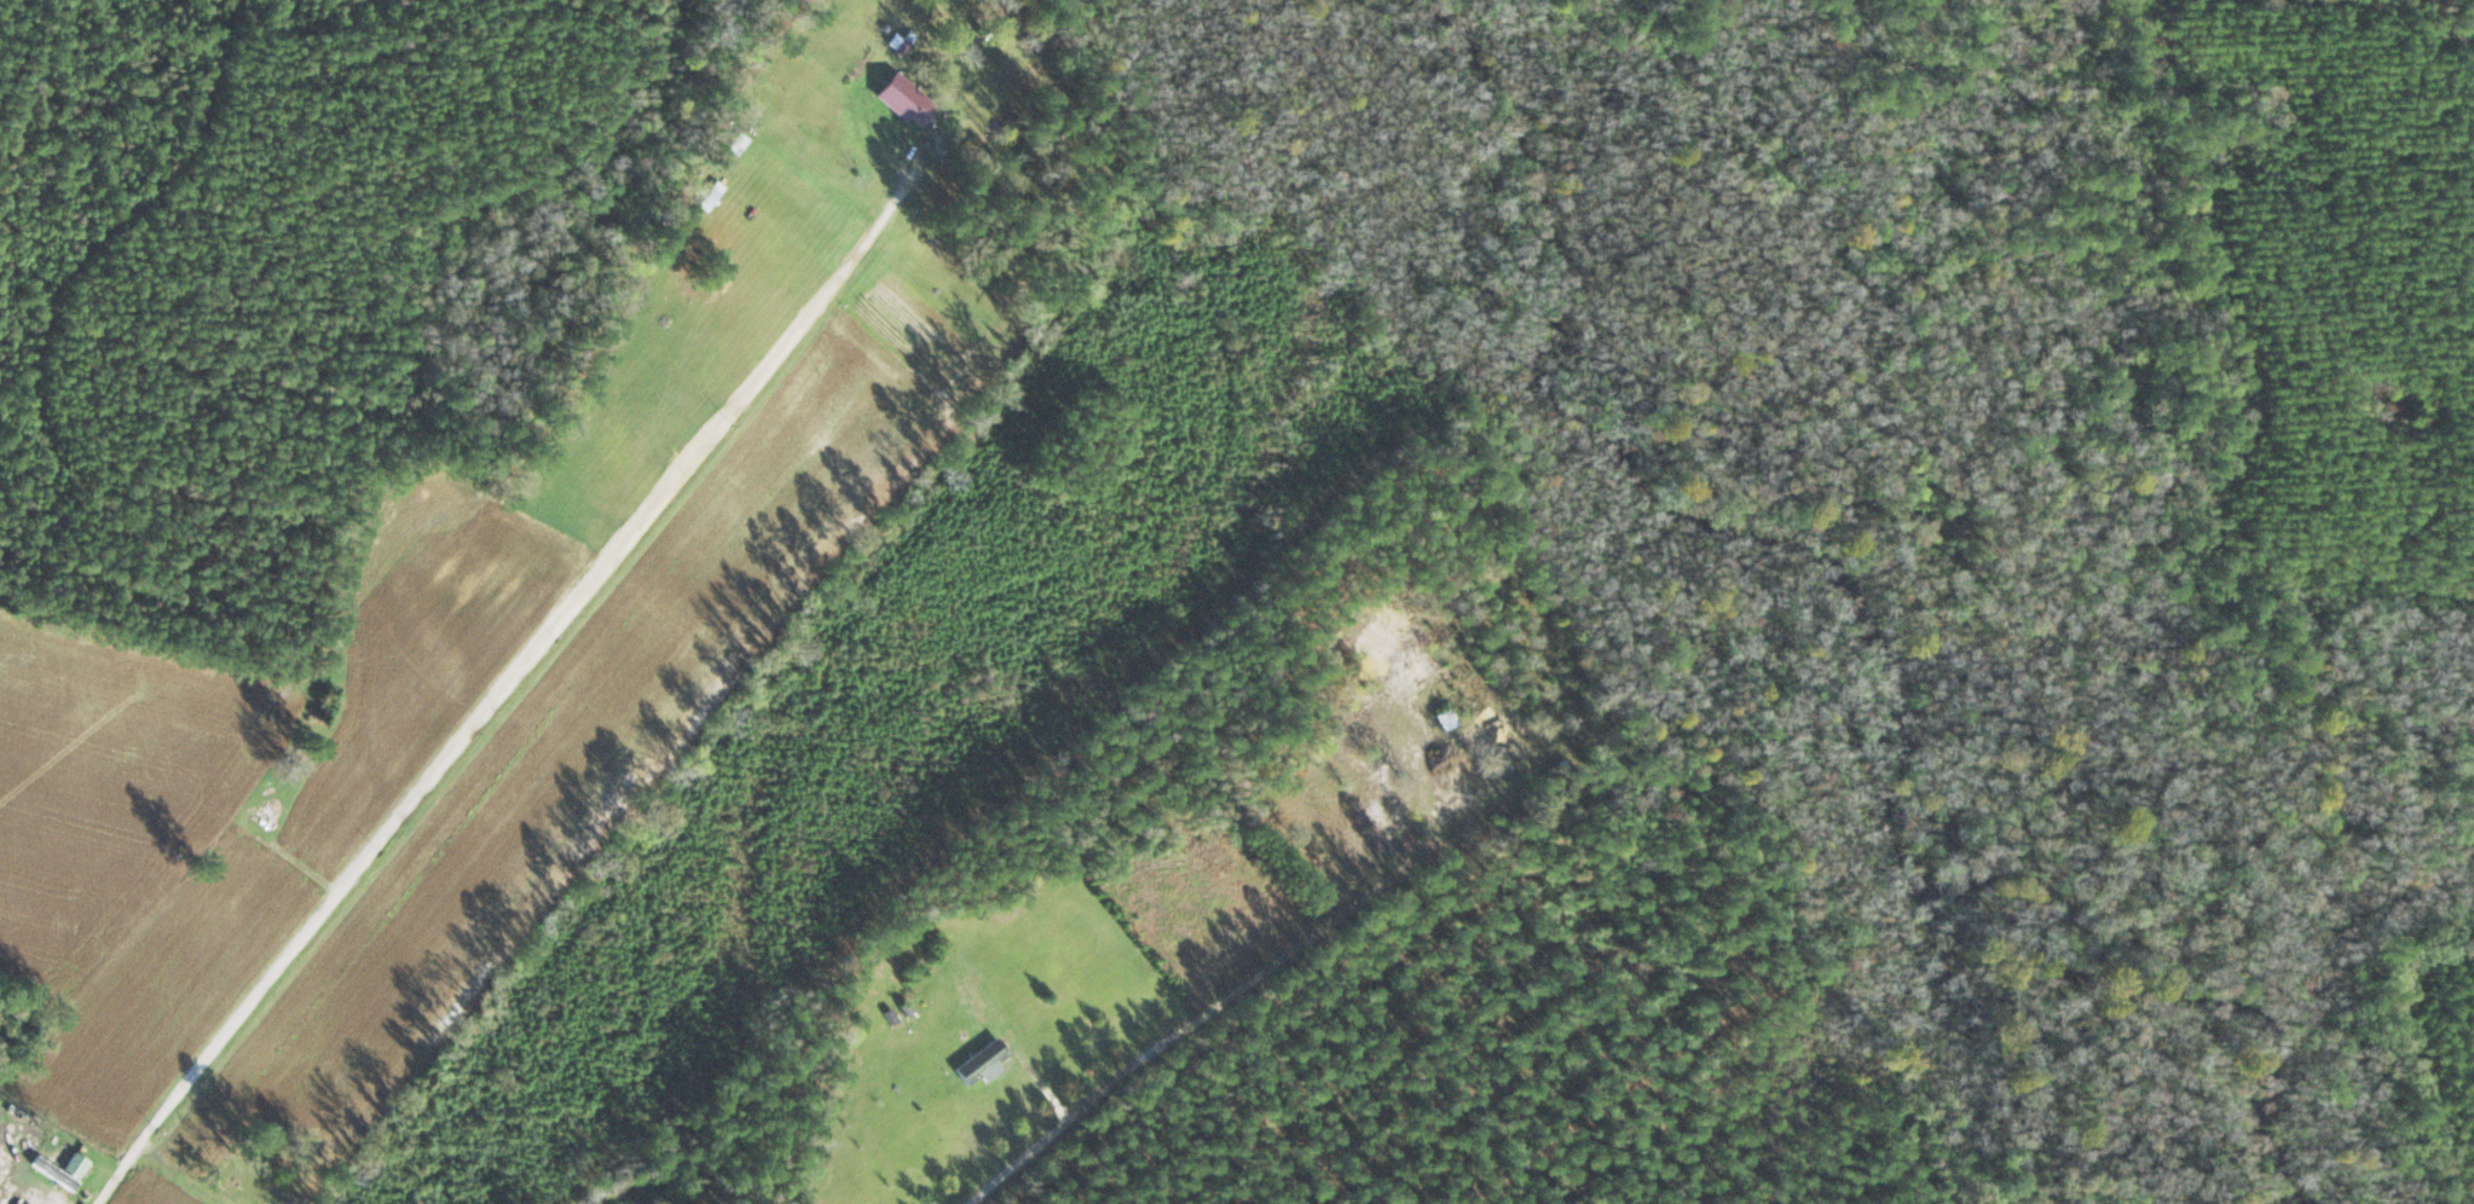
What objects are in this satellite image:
road: (2473, 0)
building: (903, 100)
building: (710, 196)
building: (1474, 700)
building: (1447, 720)
building: (1451, 791)
building: (983, 1063)
building: (76, 1165)

